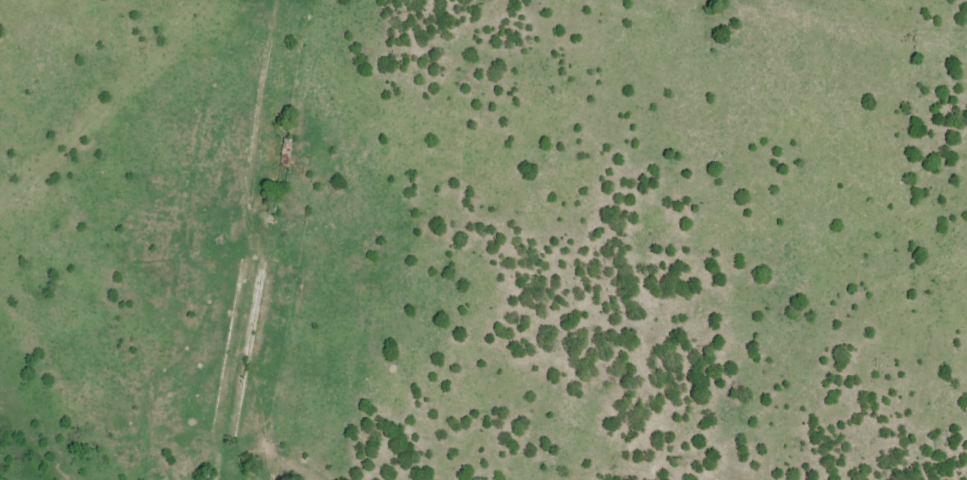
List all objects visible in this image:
building: (284, 152)

